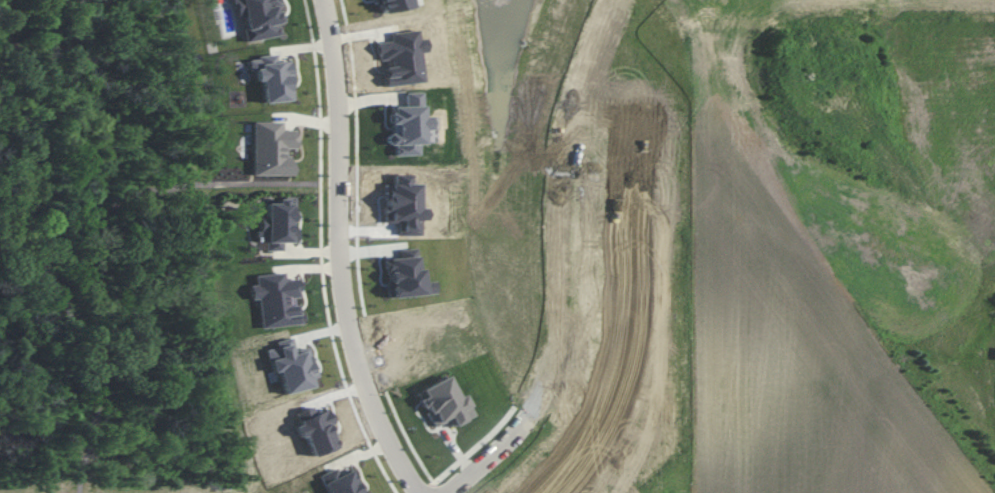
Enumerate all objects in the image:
building: (277, 224)
road: (341, 254)
road: (566, 262)
building: (275, 299)
crop: (791, 360)
building: (443, 403)

